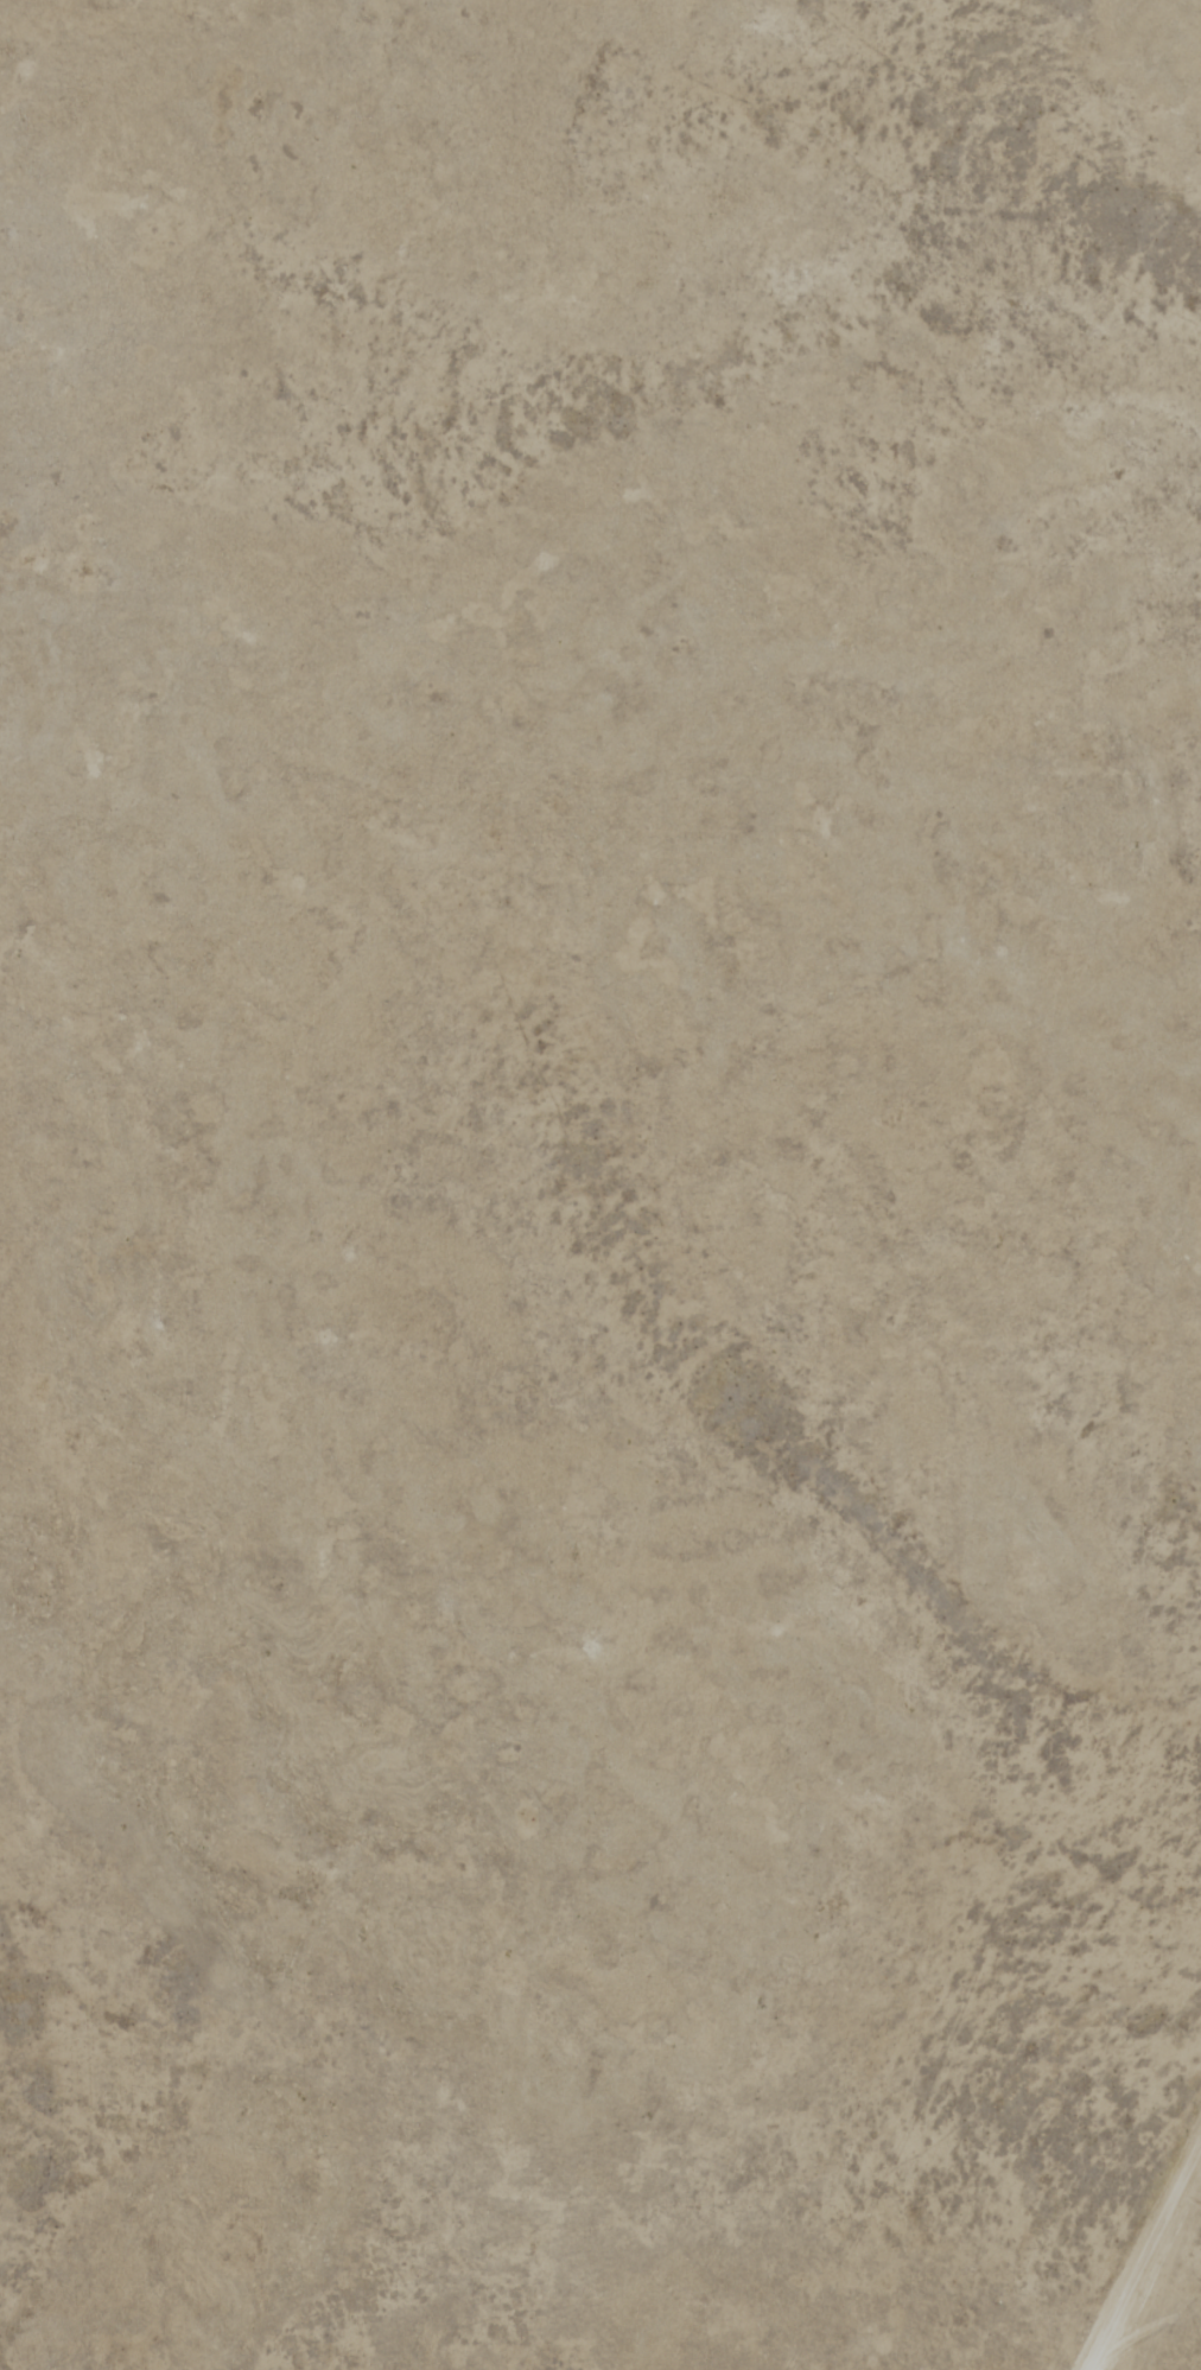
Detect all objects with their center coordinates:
road: (1181, 2334)

